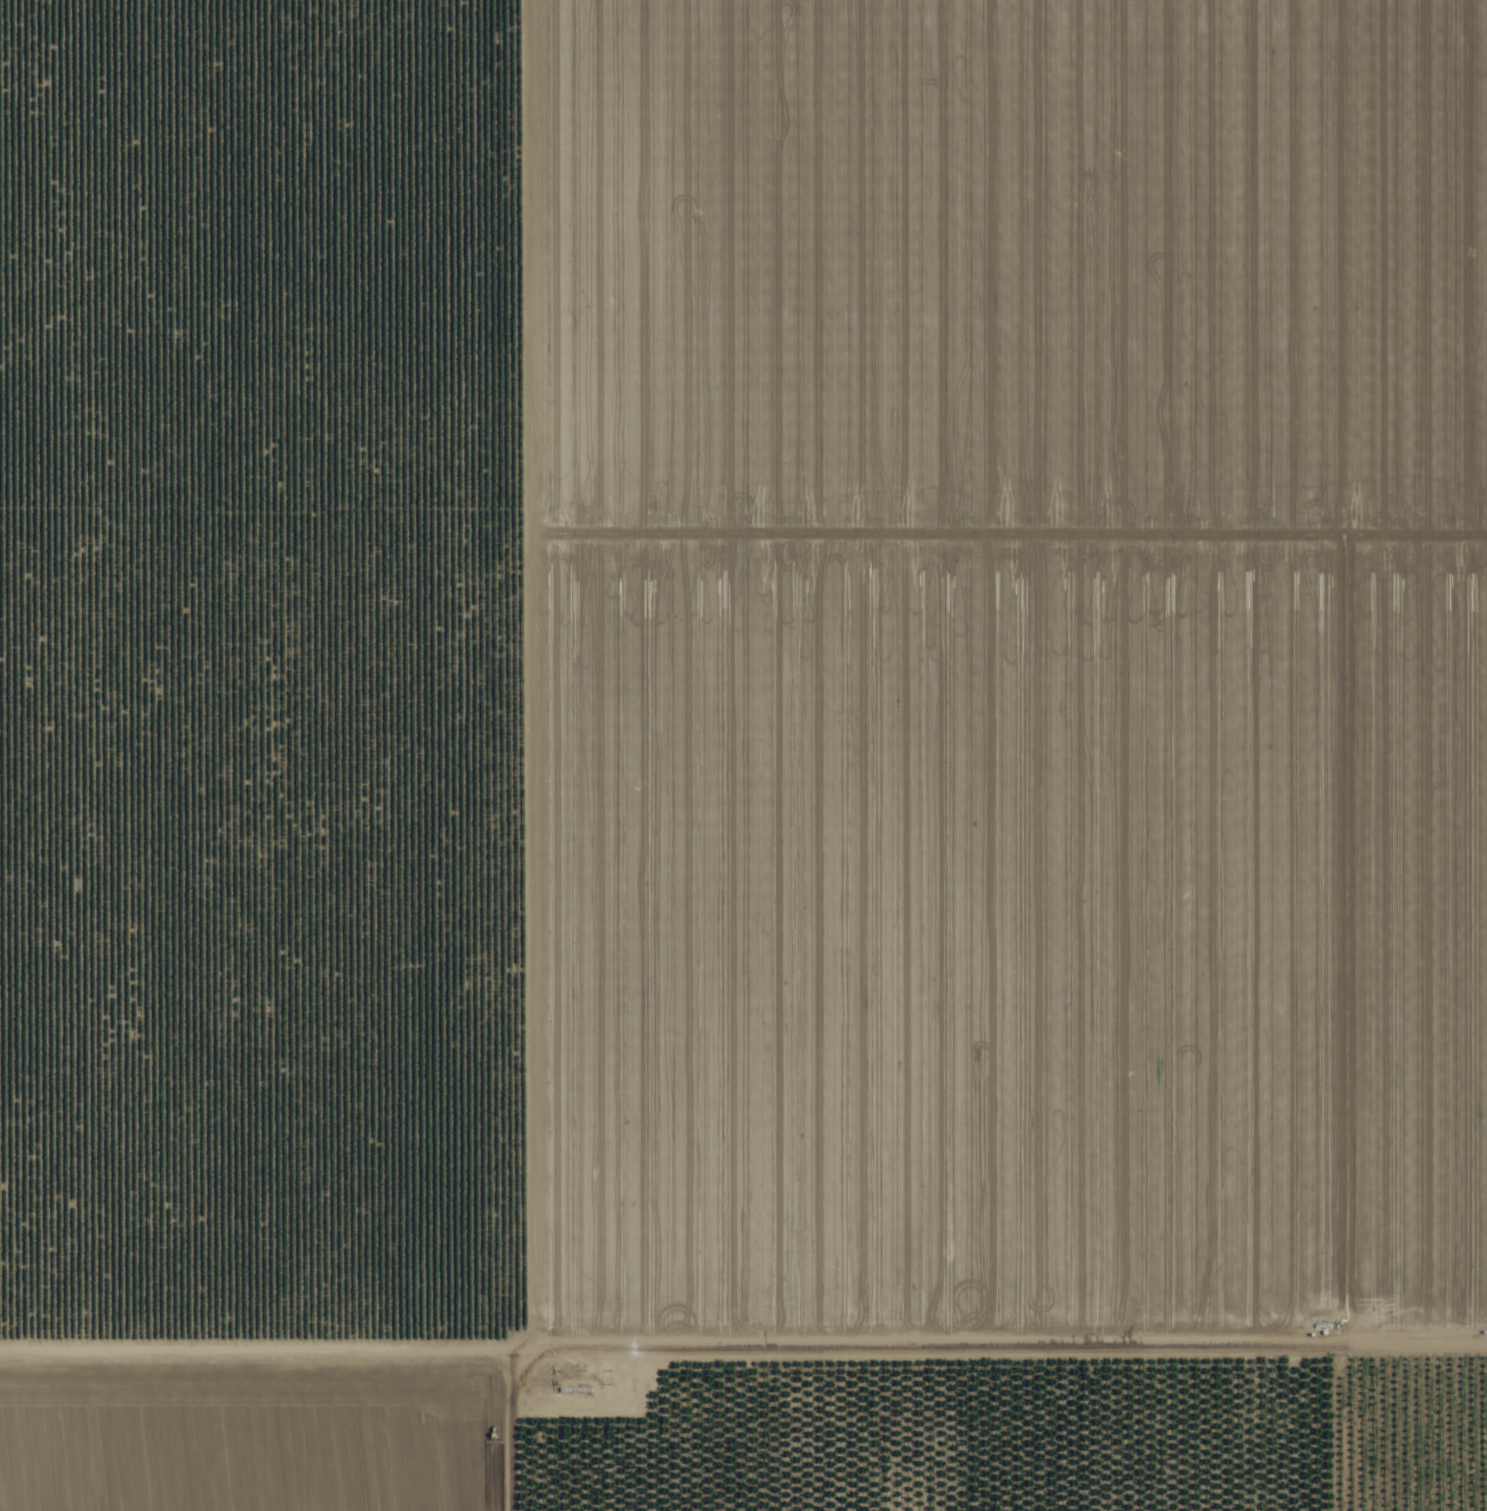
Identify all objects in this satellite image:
crop: (737, 740)
road: (490, 755)
road: (743, 1337)

